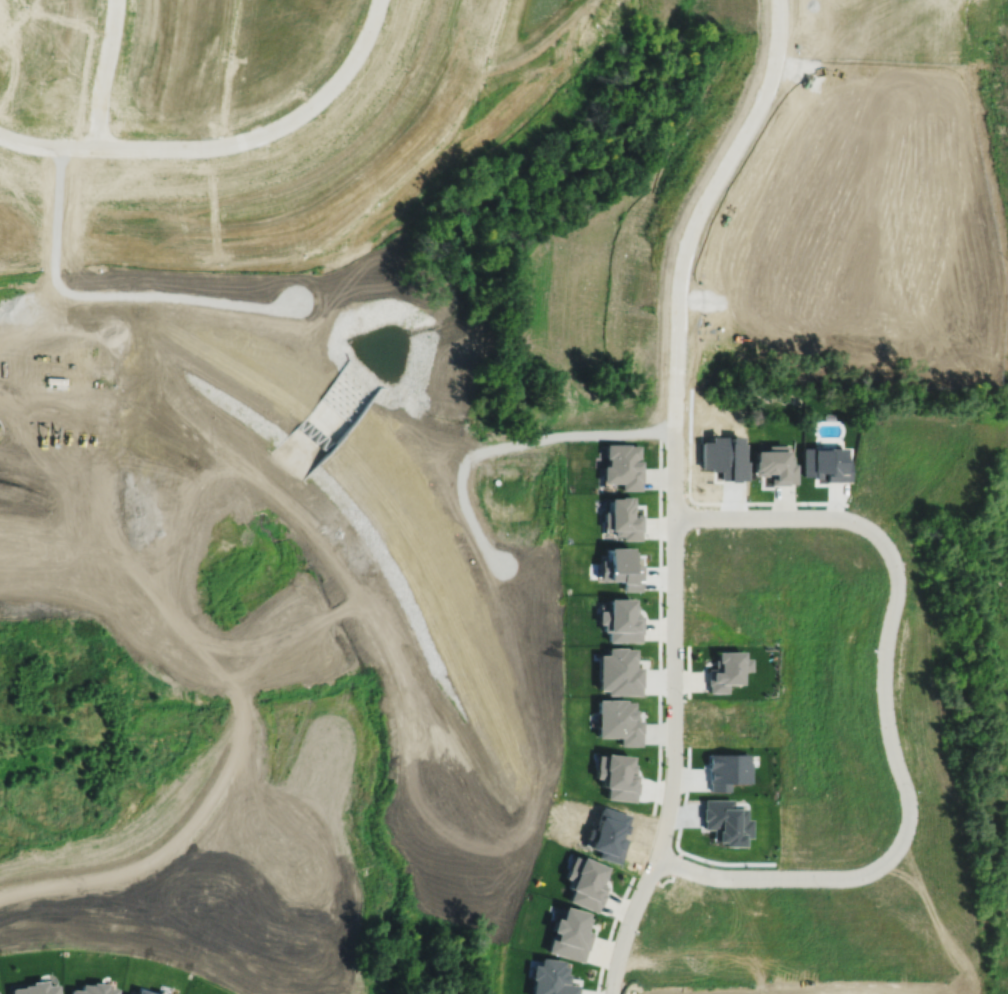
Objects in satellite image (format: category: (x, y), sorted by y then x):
road: (105, 73)
road: (271, 129)
road: (49, 146)
road: (703, 206)
building: (721, 456)
building: (823, 462)
building: (774, 464)
building: (621, 466)
road: (776, 517)
building: (621, 518)
building: (620, 568)
building: (620, 620)
dam: (165, 636)
building: (726, 670)
building: (618, 671)
road: (883, 697)
road: (674, 713)
building: (617, 721)
building: (725, 770)
building: (615, 776)
building: (723, 823)
building: (610, 835)
road: (771, 878)
building: (585, 882)
building: (569, 934)
building: (550, 978)
building: (34, 989)
building: (93, 989)
building: (141, 992)
building: (158, 993)

